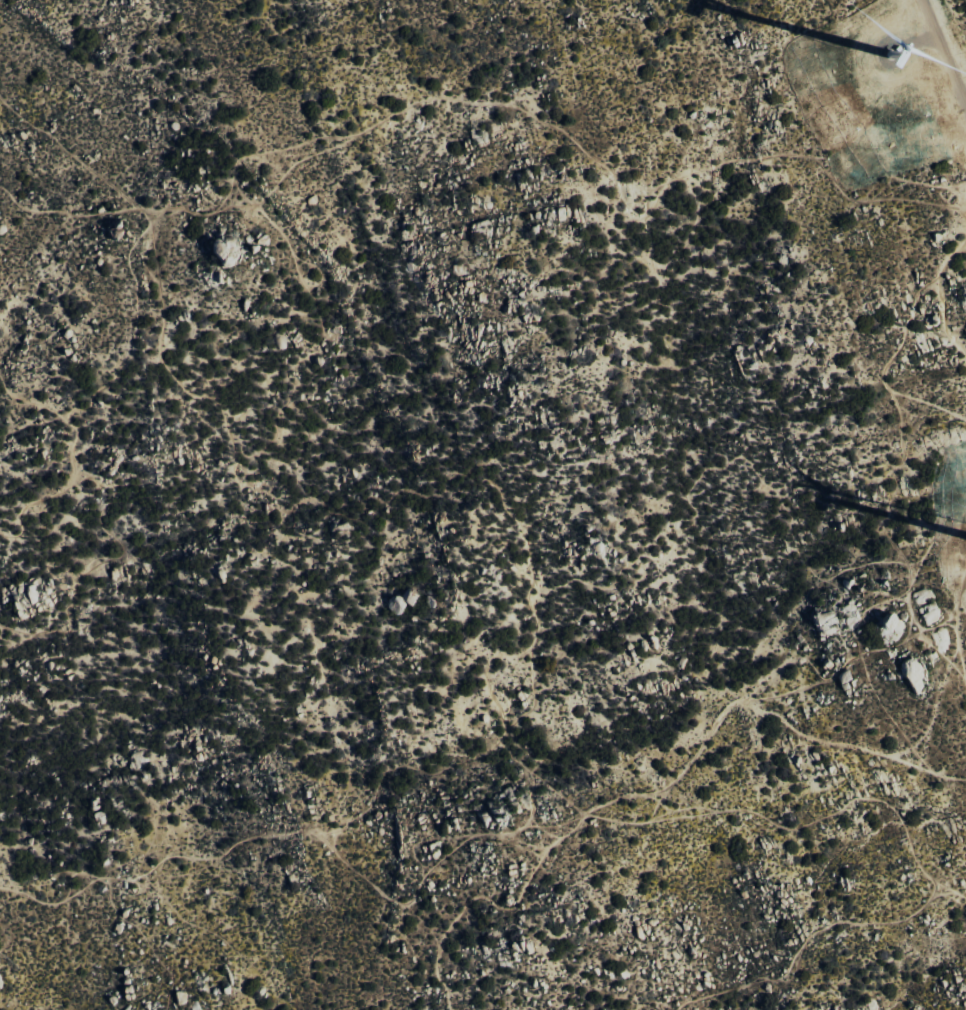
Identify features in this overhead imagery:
road: (944, 50)
wind turbine: (888, 58)
road: (666, 790)

